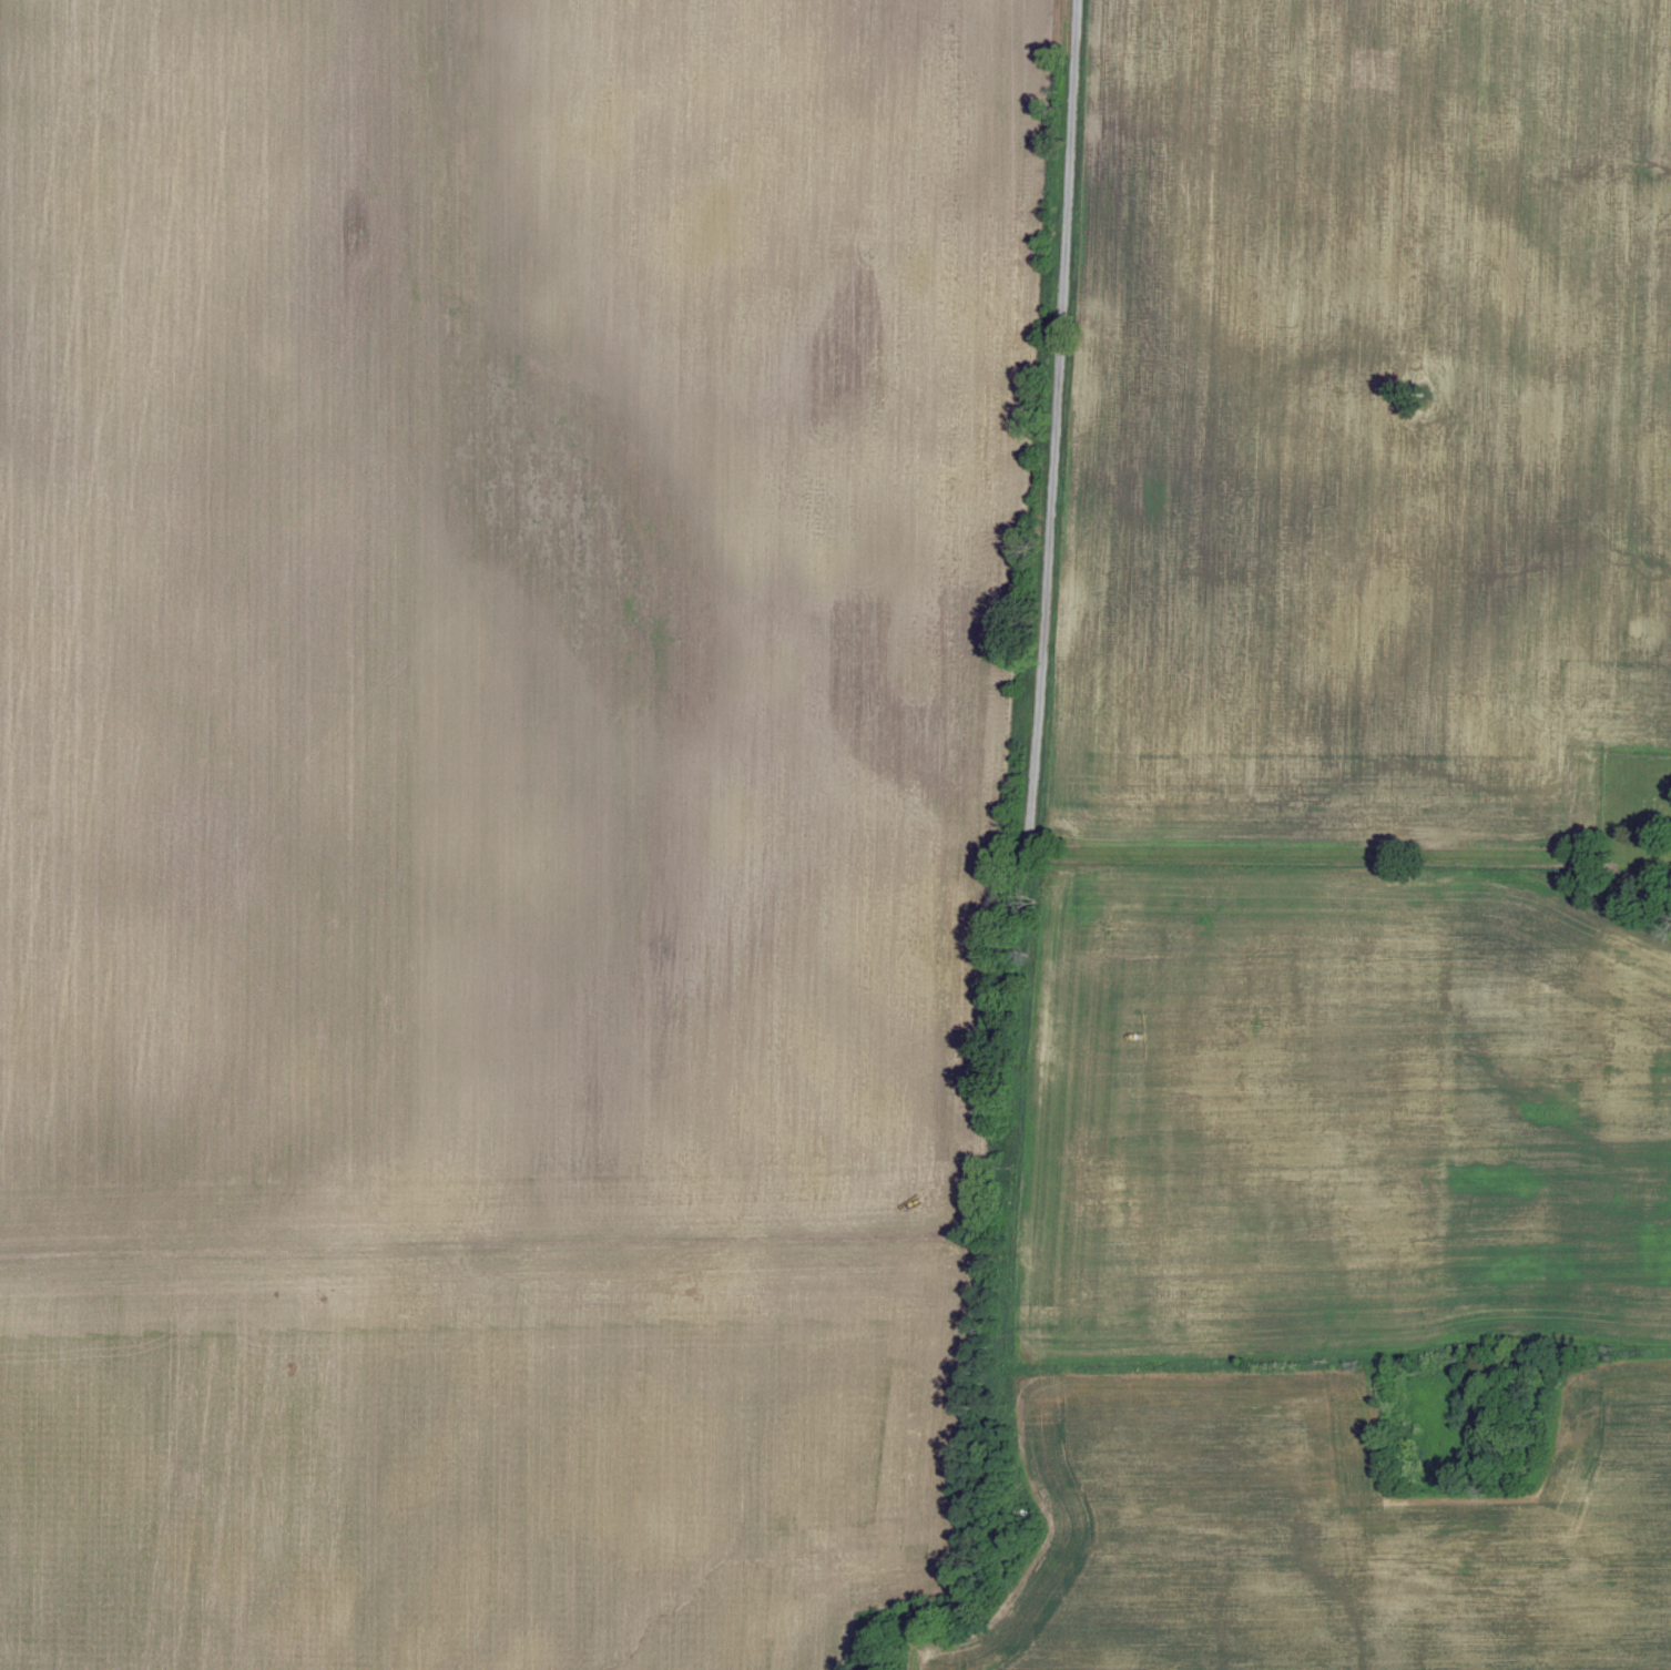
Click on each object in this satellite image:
crop: (1654, 337)
road: (1056, 425)
crop: (1349, 437)
crop: (512, 613)
park: (1638, 833)
road: (1322, 852)
crop: (1524, 1104)
crop: (1225, 1113)
crop: (1629, 1147)
crop: (490, 1452)
crop: (1303, 1528)

